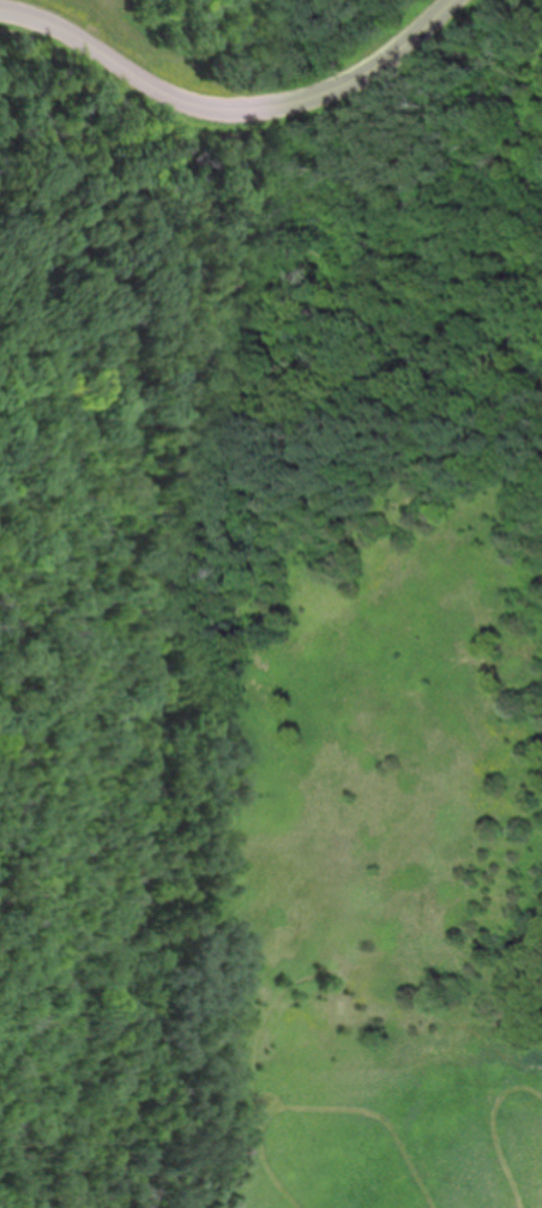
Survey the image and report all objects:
road: (233, 110)
road: (252, 140)
road: (330, 251)
road: (277, 309)
road: (12, 525)
park: (270, 540)
road: (5, 751)

